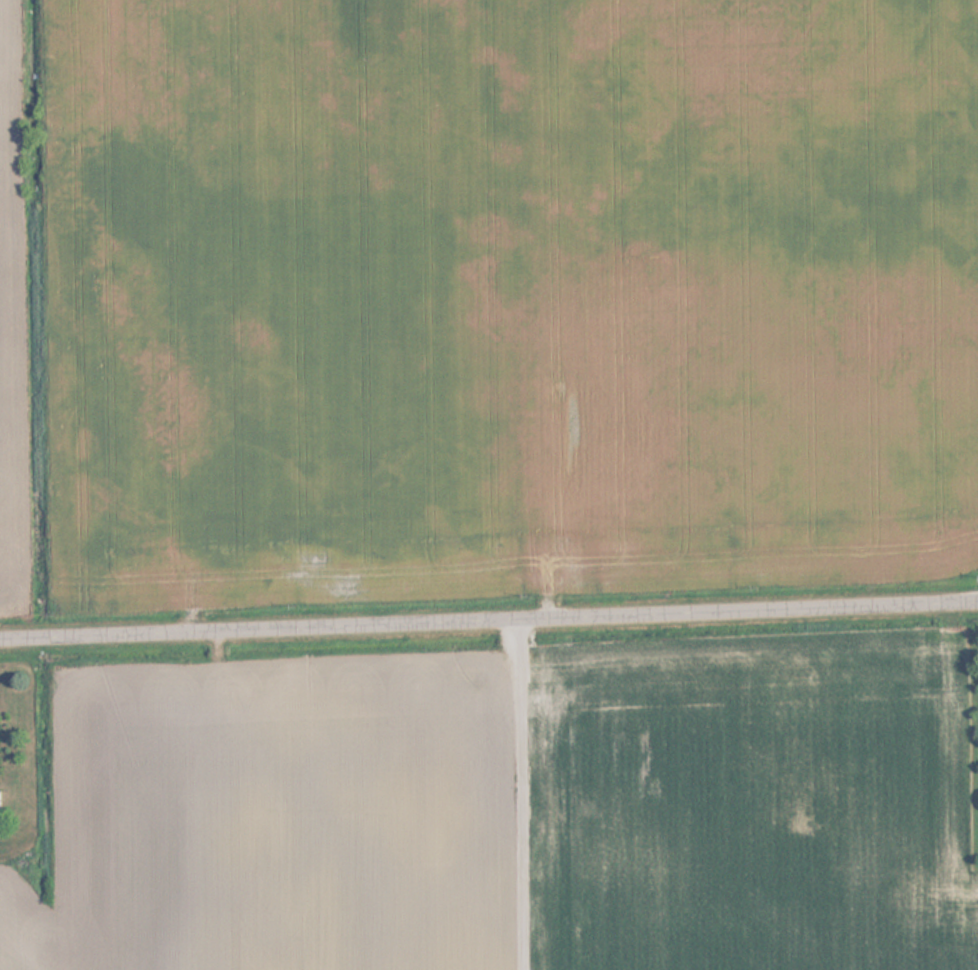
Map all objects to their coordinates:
road: (488, 619)
road: (532, 794)
building: (4, 803)

